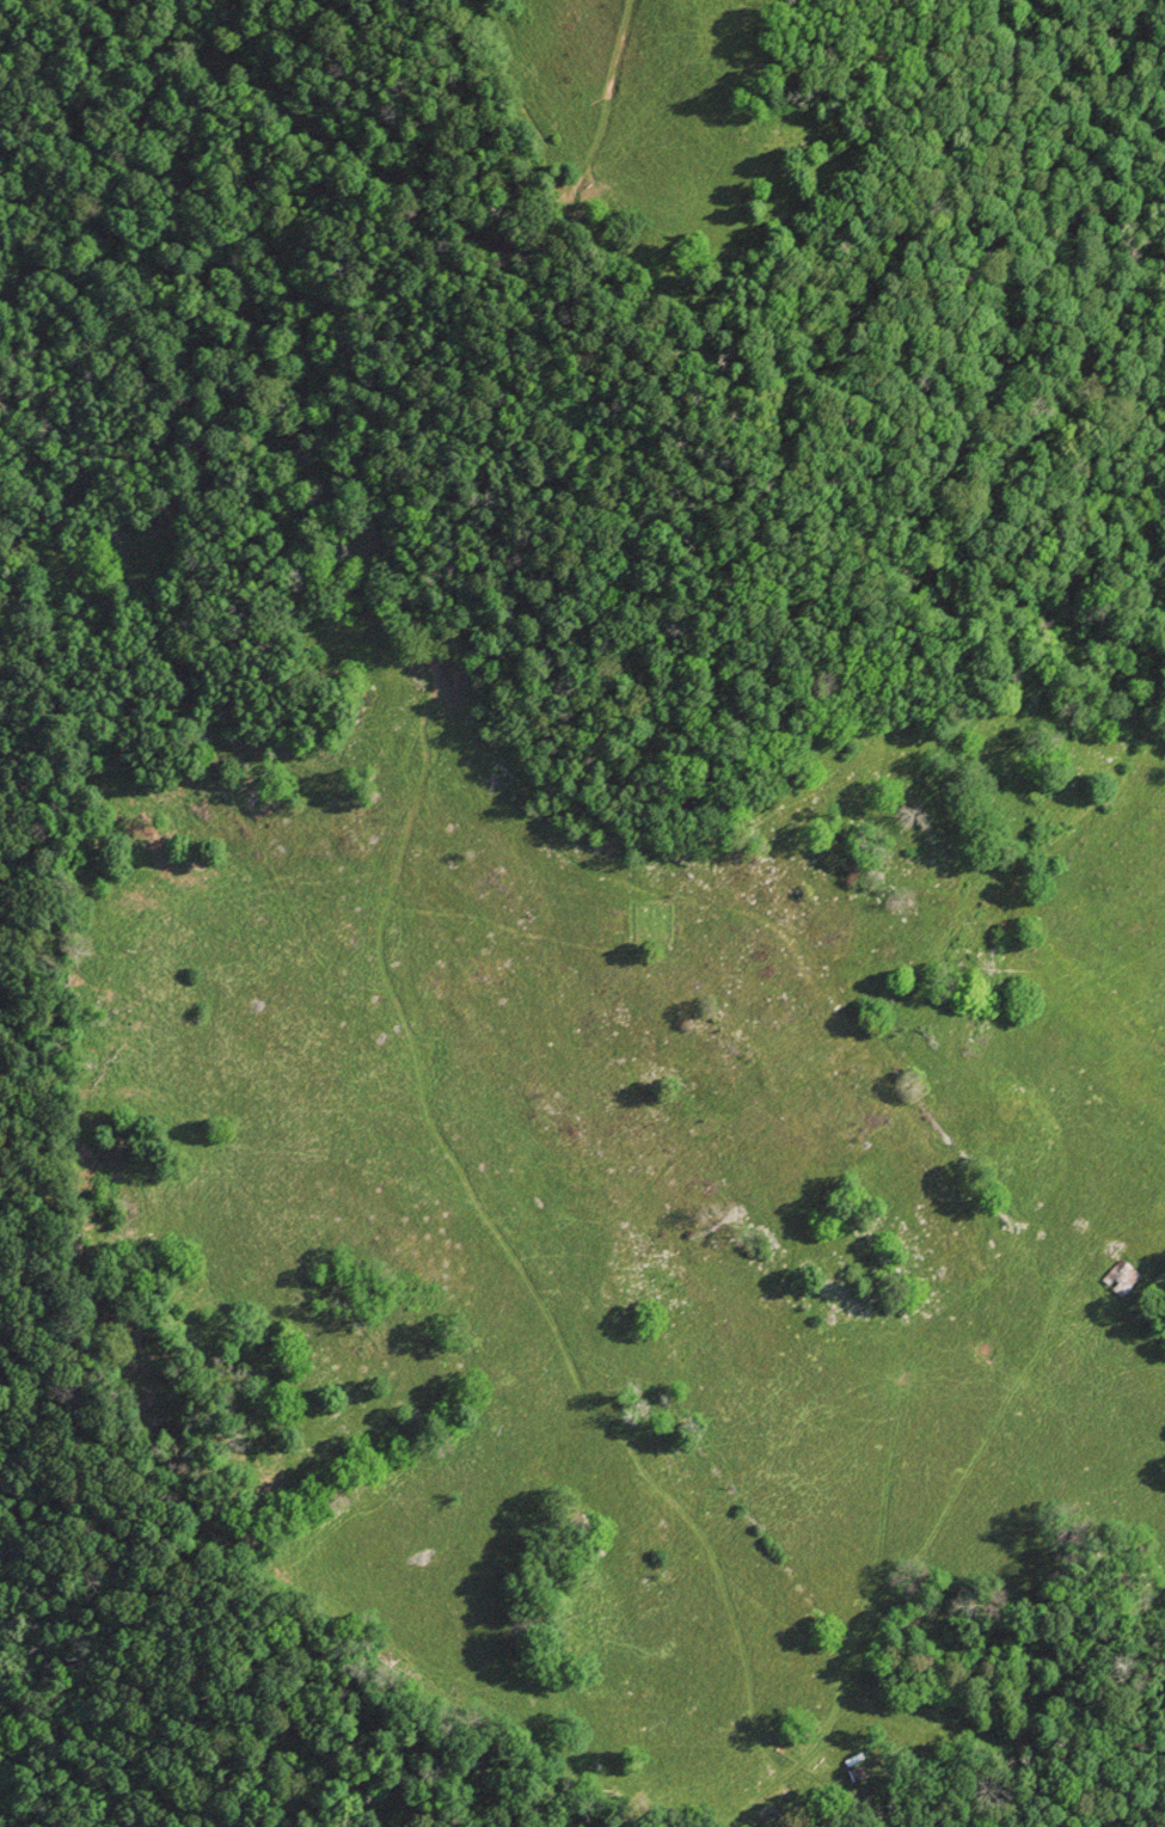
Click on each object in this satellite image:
building: (1118, 1280)

